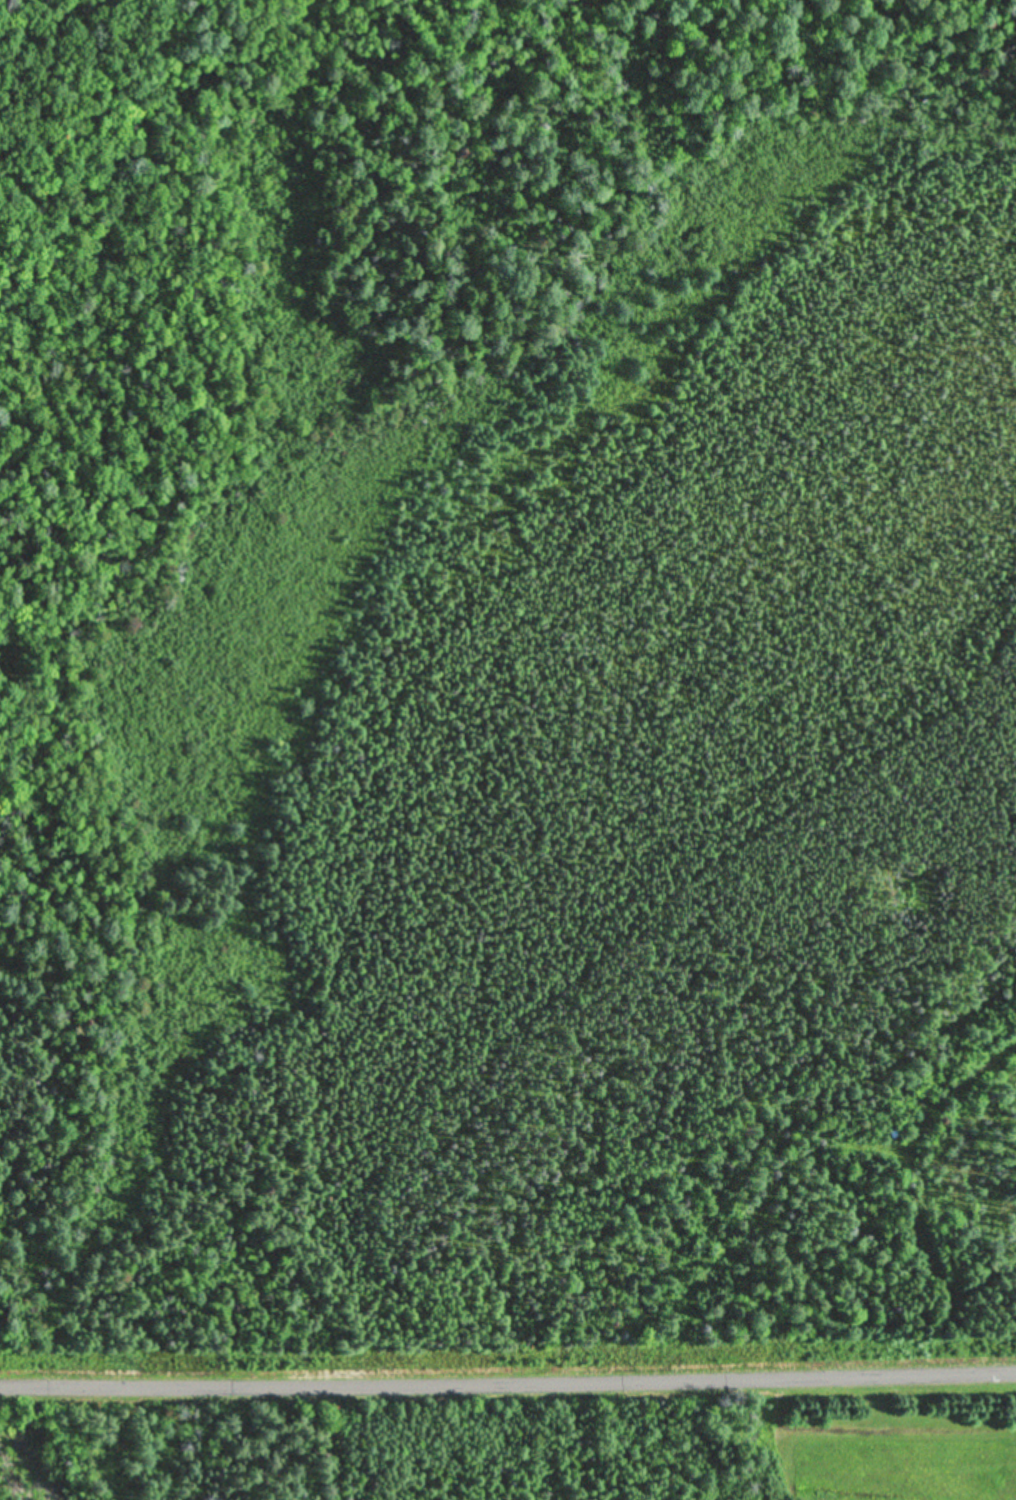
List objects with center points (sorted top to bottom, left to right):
road: (508, 1374)

